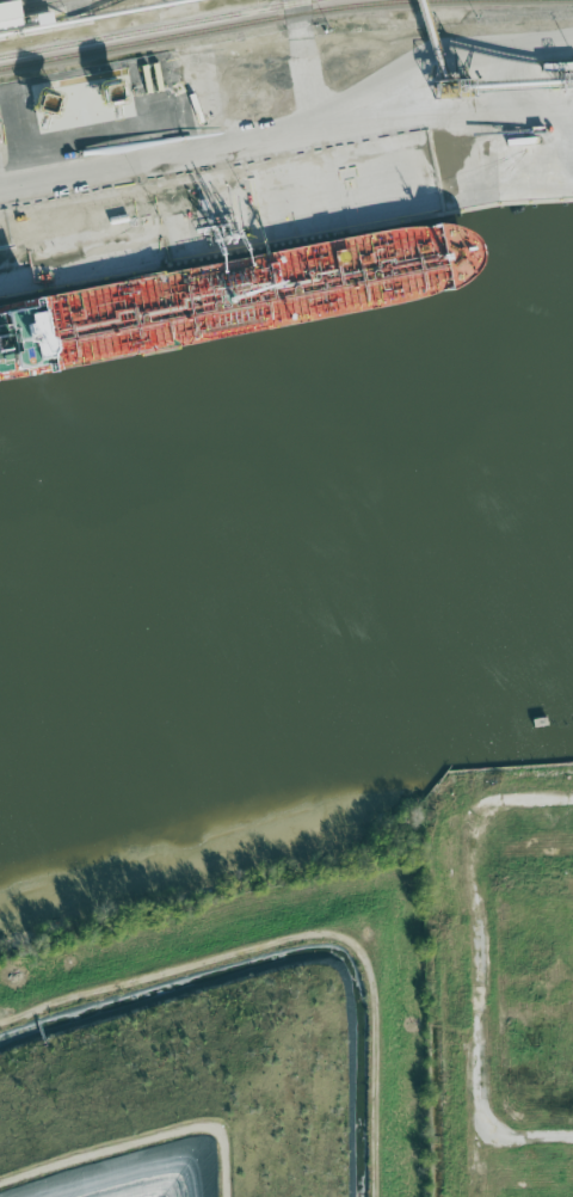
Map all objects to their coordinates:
railway: (27, 5)
building: (4, 10)
railway: (148, 27)
road: (295, 130)
river: (284, 588)
road: (480, 965)
railway: (444, 1035)

